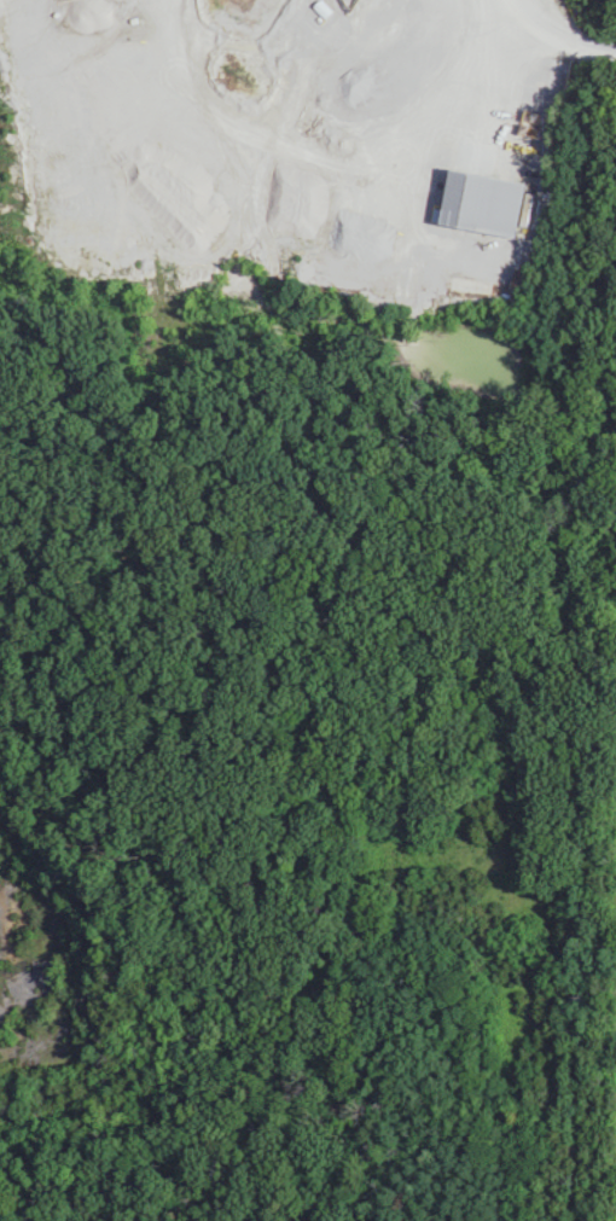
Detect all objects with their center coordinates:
road: (559, 45)
building: (481, 204)

